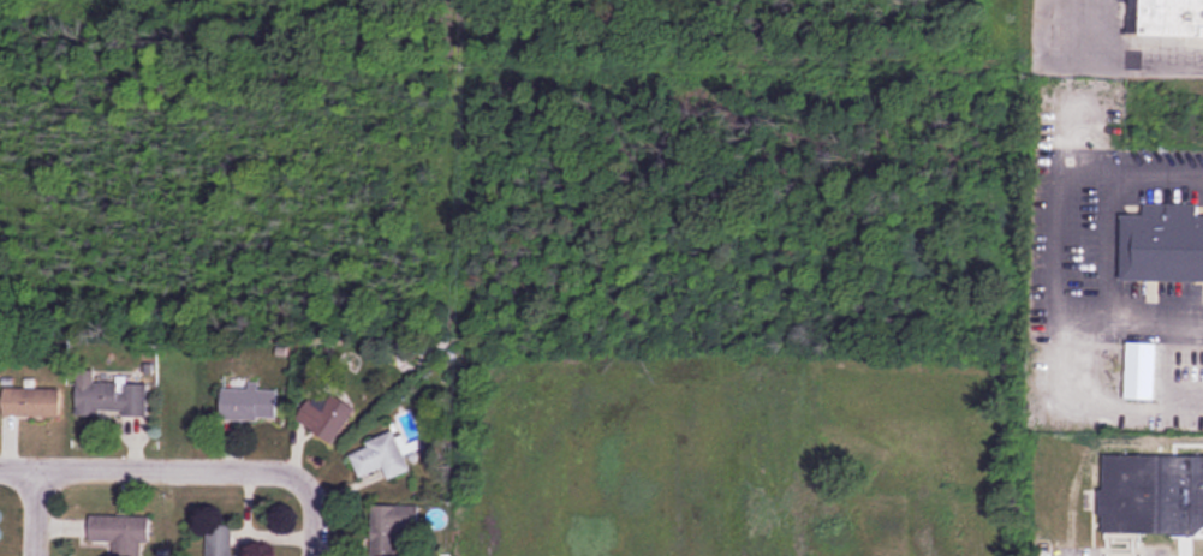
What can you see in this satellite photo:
building: (1168, 19)
road: (1098, 50)
building: (1162, 244)
building: (1141, 370)
building: (109, 397)
building: (31, 402)
building: (249, 403)
building: (326, 414)
building: (380, 458)
road: (148, 466)
building: (1153, 494)
road: (31, 509)
road: (312, 513)
building: (391, 527)
building: (121, 533)
building: (219, 540)

